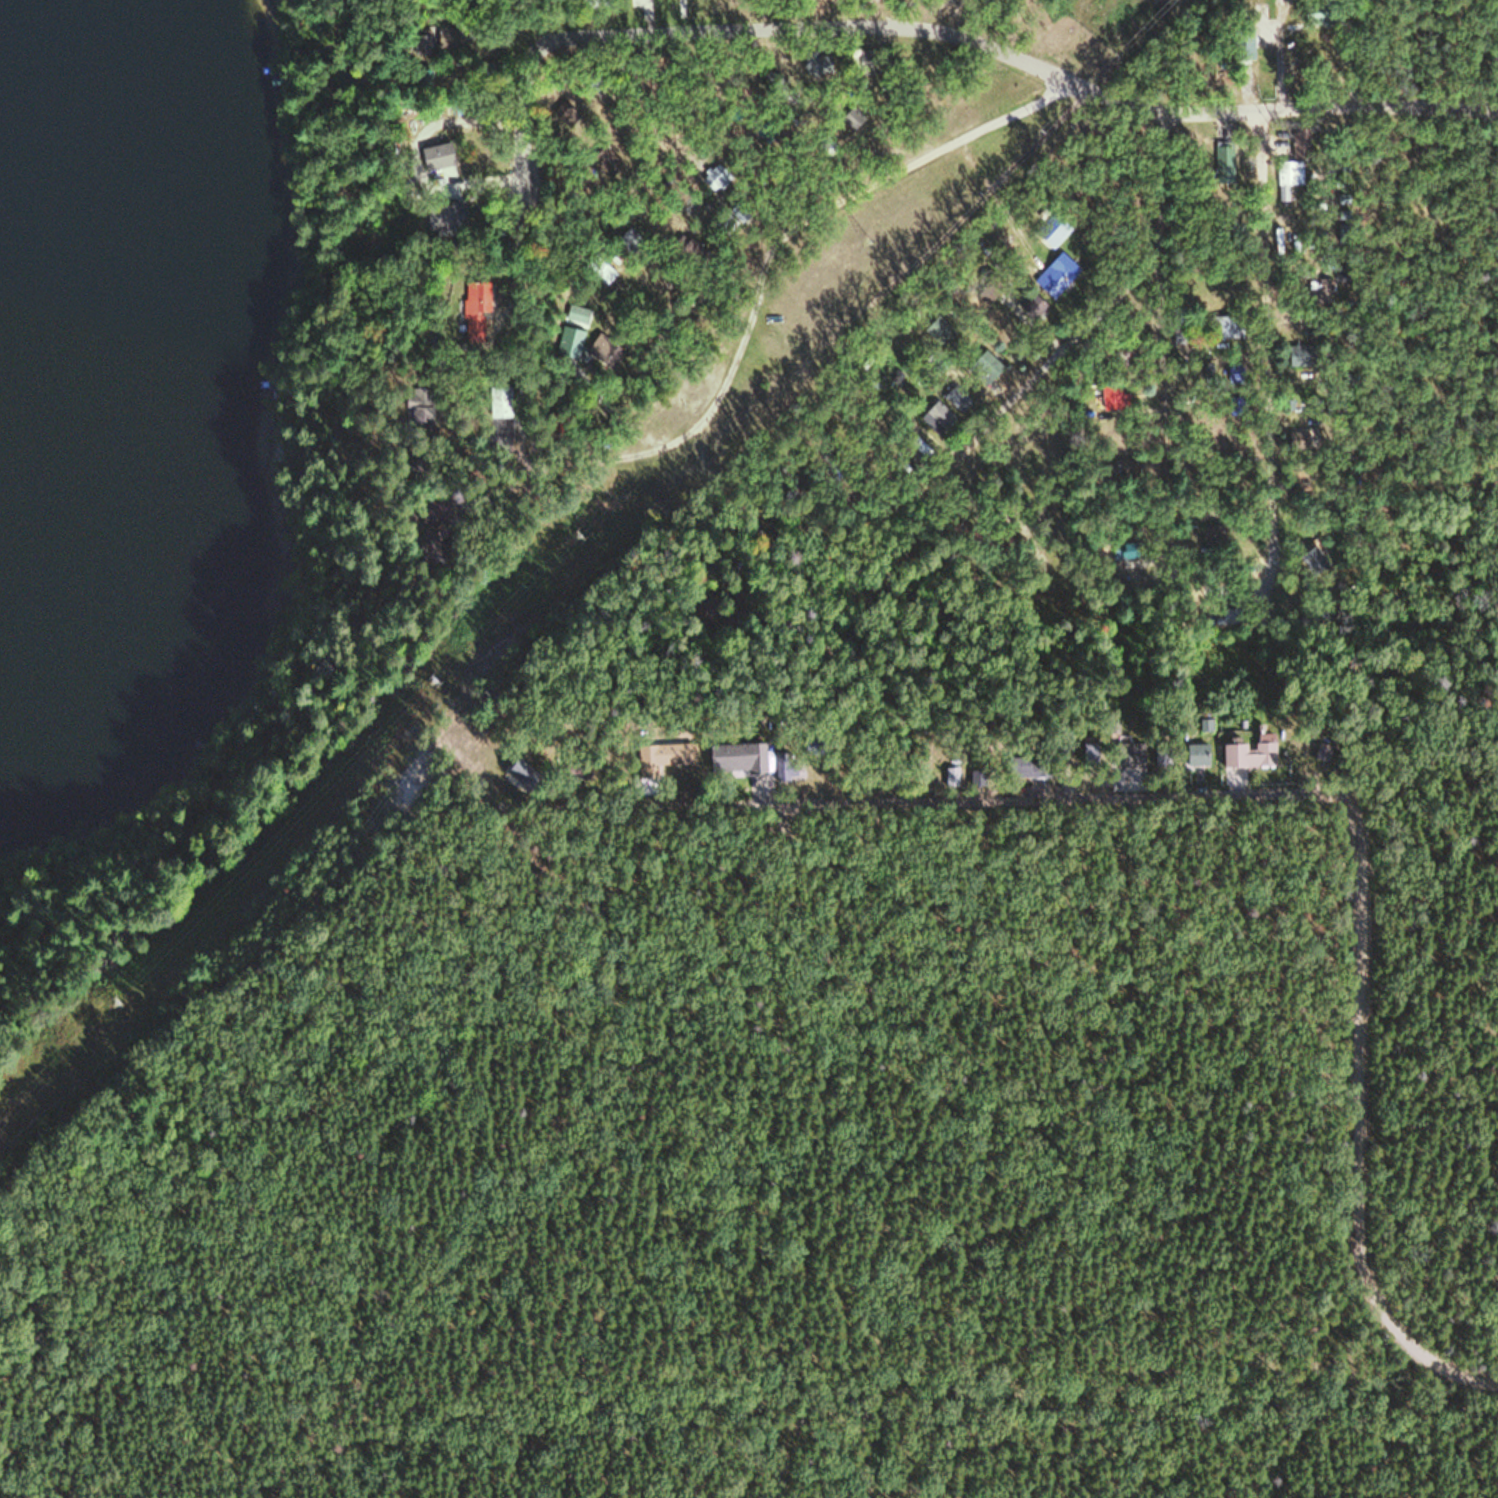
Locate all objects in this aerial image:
road: (906, 25)
building: (442, 37)
building: (419, 46)
building: (851, 55)
building: (813, 63)
building: (420, 80)
road: (522, 102)
road: (1378, 111)
building: (851, 118)
building: (823, 145)
building: (1294, 147)
road: (778, 154)
building: (432, 156)
building: (605, 160)
building: (1222, 161)
building: (1285, 176)
road: (844, 199)
building: (437, 218)
building: (1050, 229)
power tower: (860, 243)
building: (601, 270)
building: (1053, 275)
building: (1198, 289)
building: (1031, 306)
road: (1106, 310)
building: (576, 318)
building: (1216, 326)
building: (935, 329)
building: (569, 341)
building: (1178, 342)
road: (1262, 360)
building: (1232, 375)
building: (955, 397)
building: (1109, 397)
building: (500, 401)
building: (414, 406)
building: (1233, 407)
building: (937, 415)
road: (903, 428)
road: (1304, 481)
building: (1294, 482)
power tower: (573, 534)
building: (1311, 560)
road: (791, 626)
power tower: (432, 679)
building: (673, 753)
building: (1089, 753)
building: (1196, 753)
building: (1246, 753)
building: (1126, 754)
building: (1163, 754)
building: (735, 756)
building: (785, 762)
building: (1027, 764)
building: (973, 771)
building: (946, 772)
building: (519, 774)
road: (1418, 780)
road: (1282, 789)
power tower: (114, 1002)
road: (710, 1251)
road: (340, 1390)

